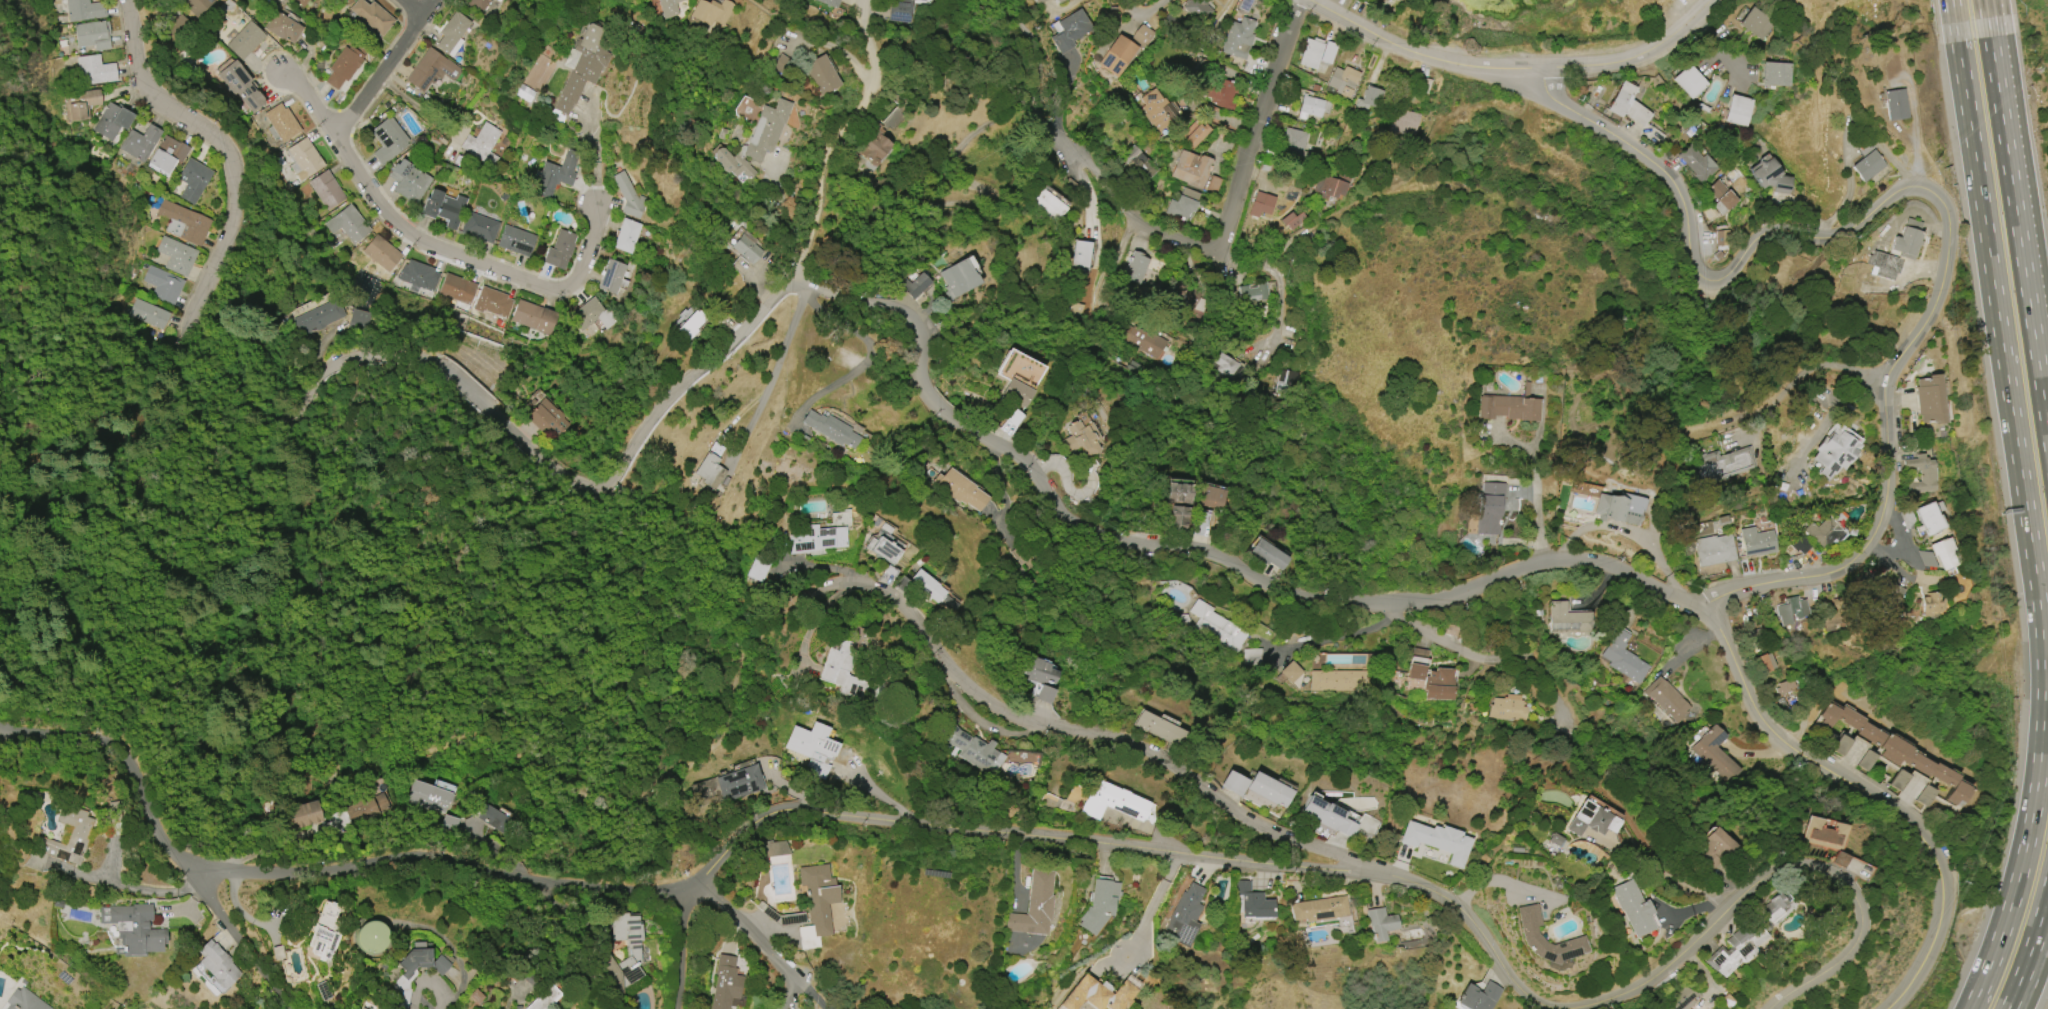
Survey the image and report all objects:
building: (1396, 0)
building: (1041, 1)
building: (1060, 1)
building: (303, 2)
building: (830, 3)
building: (479, 5)
building: (197, 6)
road: (862, 6)
road: (412, 7)
building: (669, 8)
building: (902, 8)
road: (1985, 9)
building: (83, 10)
building: (1198, 10)
road: (1953, 11)
building: (713, 12)
road: (1144, 14)
building: (373, 16)
building: (1755, 23)
building: (284, 28)
building: (1069, 30)
building: (453, 34)
building: (94, 35)
building: (1142, 37)
building: (1238, 38)
building: (246, 41)
road: (1725, 43)
road: (868, 46)
building: (1311, 53)
building: (1117, 56)
building: (781, 64)
building: (584, 65)
building: (345, 66)
road: (385, 66)
road: (1516, 66)
building: (432, 70)
building: (95, 71)
building: (1775, 74)
building: (822, 75)
building: (1343, 81)
building: (1689, 82)
building: (241, 87)
building: (1316, 89)
building: (1220, 92)
building: (1370, 99)
building: (81, 104)
building: (1894, 104)
building: (1627, 105)
building: (1313, 107)
building: (1703, 108)
building: (1155, 110)
building: (1737, 111)
road: (427, 114)
building: (113, 121)
building: (282, 123)
building: (1403, 124)
road: (1260, 127)
building: (1195, 134)
building: (388, 141)
building: (141, 142)
building: (482, 142)
building: (756, 142)
building: (1293, 142)
building: (875, 146)
road: (593, 147)
building: (169, 155)
building: (304, 159)
building: (1696, 163)
building: (1138, 164)
building: (1868, 166)
building: (1191, 169)
road: (1089, 171)
building: (555, 175)
road: (821, 175)
building: (1770, 177)
building: (194, 180)
building: (410, 181)
building: (1213, 184)
building: (1328, 188)
building: (327, 189)
building: (629, 197)
building: (1720, 197)
building: (1261, 204)
building: (1045, 205)
building: (1182, 205)
building: (444, 208)
building: (1292, 220)
building: (184, 222)
building: (351, 224)
road: (2017, 226)
building: (480, 228)
building: (627, 236)
building: (1722, 239)
building: (517, 241)
road: (431, 244)
building: (748, 248)
building: (1903, 248)
building: (560, 250)
building: (383, 254)
building: (177, 255)
building: (1080, 255)
building: (1136, 267)
road: (1702, 274)
building: (418, 276)
building: (612, 277)
building: (958, 279)
building: (164, 285)
building: (915, 285)
building: (457, 289)
building: (1253, 293)
building: (494, 303)
building: (150, 314)
building: (593, 315)
road: (1280, 315)
building: (319, 318)
building: (534, 318)
building: (358, 320)
building: (692, 325)
building: (1141, 339)
road: (872, 349)
road: (349, 358)
building: (1226, 366)
road: (776, 367)
road: (1817, 368)
building: (1021, 377)
building: (1287, 381)
building: (1526, 388)
building: (1929, 400)
building: (1508, 408)
building: (550, 419)
building: (832, 429)
building: (1079, 440)
building: (1833, 451)
road: (1885, 461)
building: (1722, 465)
building: (710, 471)
building: (1920, 474)
building: (959, 490)
road: (1535, 495)
building: (1209, 499)
building: (1179, 506)
building: (1489, 509)
building: (1619, 509)
building: (1905, 517)
building: (1929, 517)
road: (2028, 519)
building: (1826, 531)
building: (817, 539)
building: (1756, 542)
building: (1800, 544)
building: (884, 550)
building: (1714, 550)
building: (1944, 553)
building: (1268, 555)
building: (1927, 559)
building: (759, 567)
road: (1464, 589)
building: (933, 590)
building: (1882, 591)
building: (1930, 604)
building: (1791, 610)
building: (1567, 619)
building: (1216, 626)
road: (1341, 636)
building: (1252, 657)
building: (1622, 657)
road: (1478, 658)
building: (1763, 663)
building: (1418, 664)
building: (842, 670)
building: (1292, 674)
building: (1040, 678)
building: (1338, 680)
building: (1439, 684)
building: (1785, 686)
building: (1667, 700)
building: (1507, 708)
building: (1159, 729)
road: (1098, 738)
building: (1840, 745)
building: (969, 747)
building: (1890, 747)
building: (811, 752)
building: (1715, 754)
building: (1865, 761)
road: (126, 765)
building: (1898, 780)
building: (739, 783)
building: (1233, 783)
building: (705, 790)
building: (1269, 790)
building: (1923, 796)
building: (430, 797)
building: (1112, 802)
building: (368, 809)
building: (300, 817)
building: (1328, 817)
building: (1592, 820)
building: (1824, 834)
building: (75, 836)
building: (1554, 840)
building: (1437, 841)
building: (774, 849)
road: (1140, 850)
building: (1516, 850)
building: (1716, 850)
building: (1839, 860)
road: (134, 889)
building: (1253, 902)
building: (817, 905)
building: (1099, 905)
building: (1035, 907)
building: (1633, 907)
road: (1158, 908)
building: (1319, 910)
building: (1184, 916)
building: (1379, 923)
building: (1344, 924)
building: (134, 930)
building: (323, 934)
building: (1529, 935)
building: (371, 937)
building: (1746, 938)
road: (763, 939)
road: (246, 947)
road: (683, 948)
road: (2030, 954)
building: (635, 957)
building: (219, 965)
building: (410, 973)
road: (425, 981)
building: (726, 983)
building: (1099, 994)
road: (813, 996)
building: (1477, 996)
building: (546, 998)
building: (1681, 999)
building: (24, 1001)
road: (423, 1003)
building: (363, 1008)

